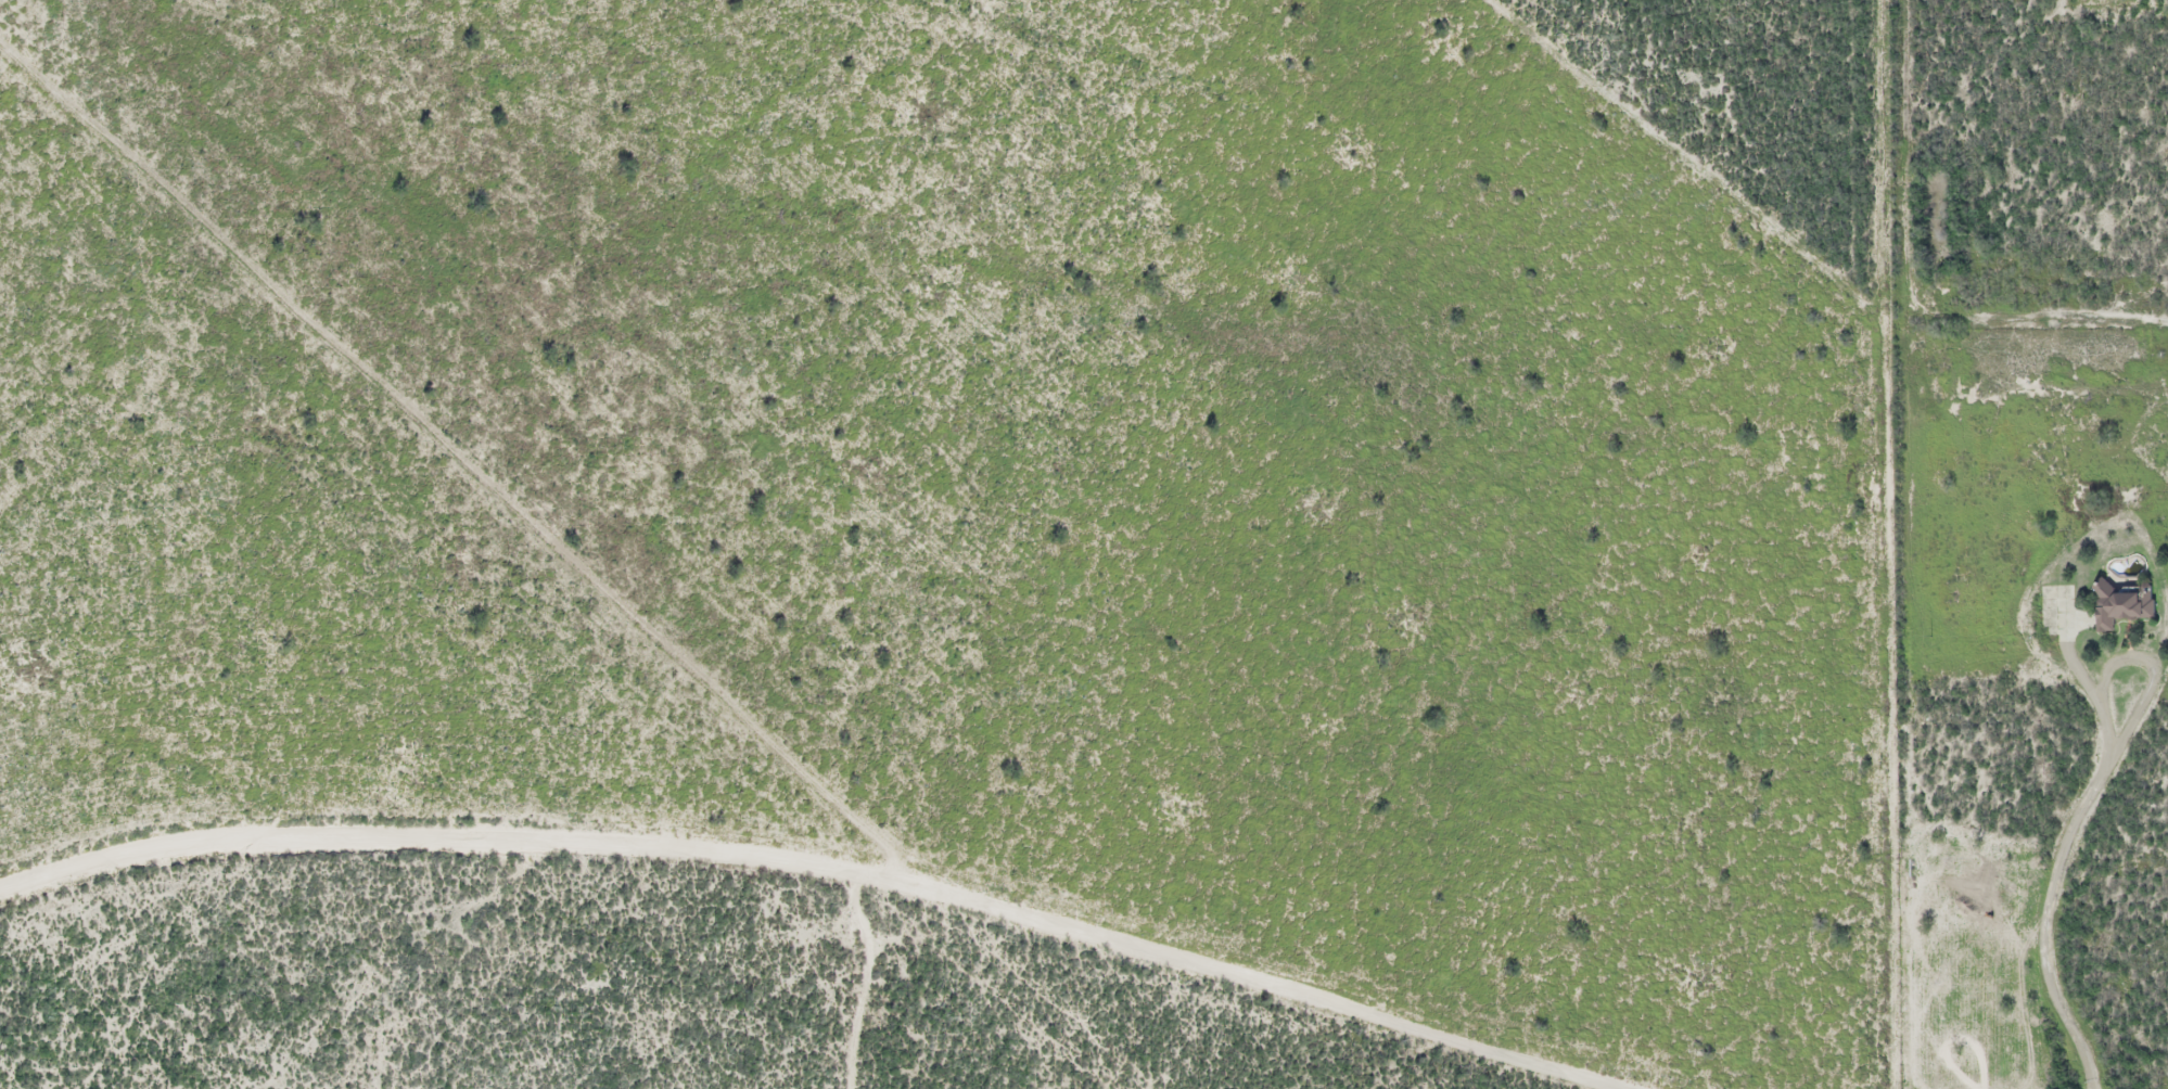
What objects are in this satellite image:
building: (2122, 604)
road: (825, 867)
road: (864, 979)

